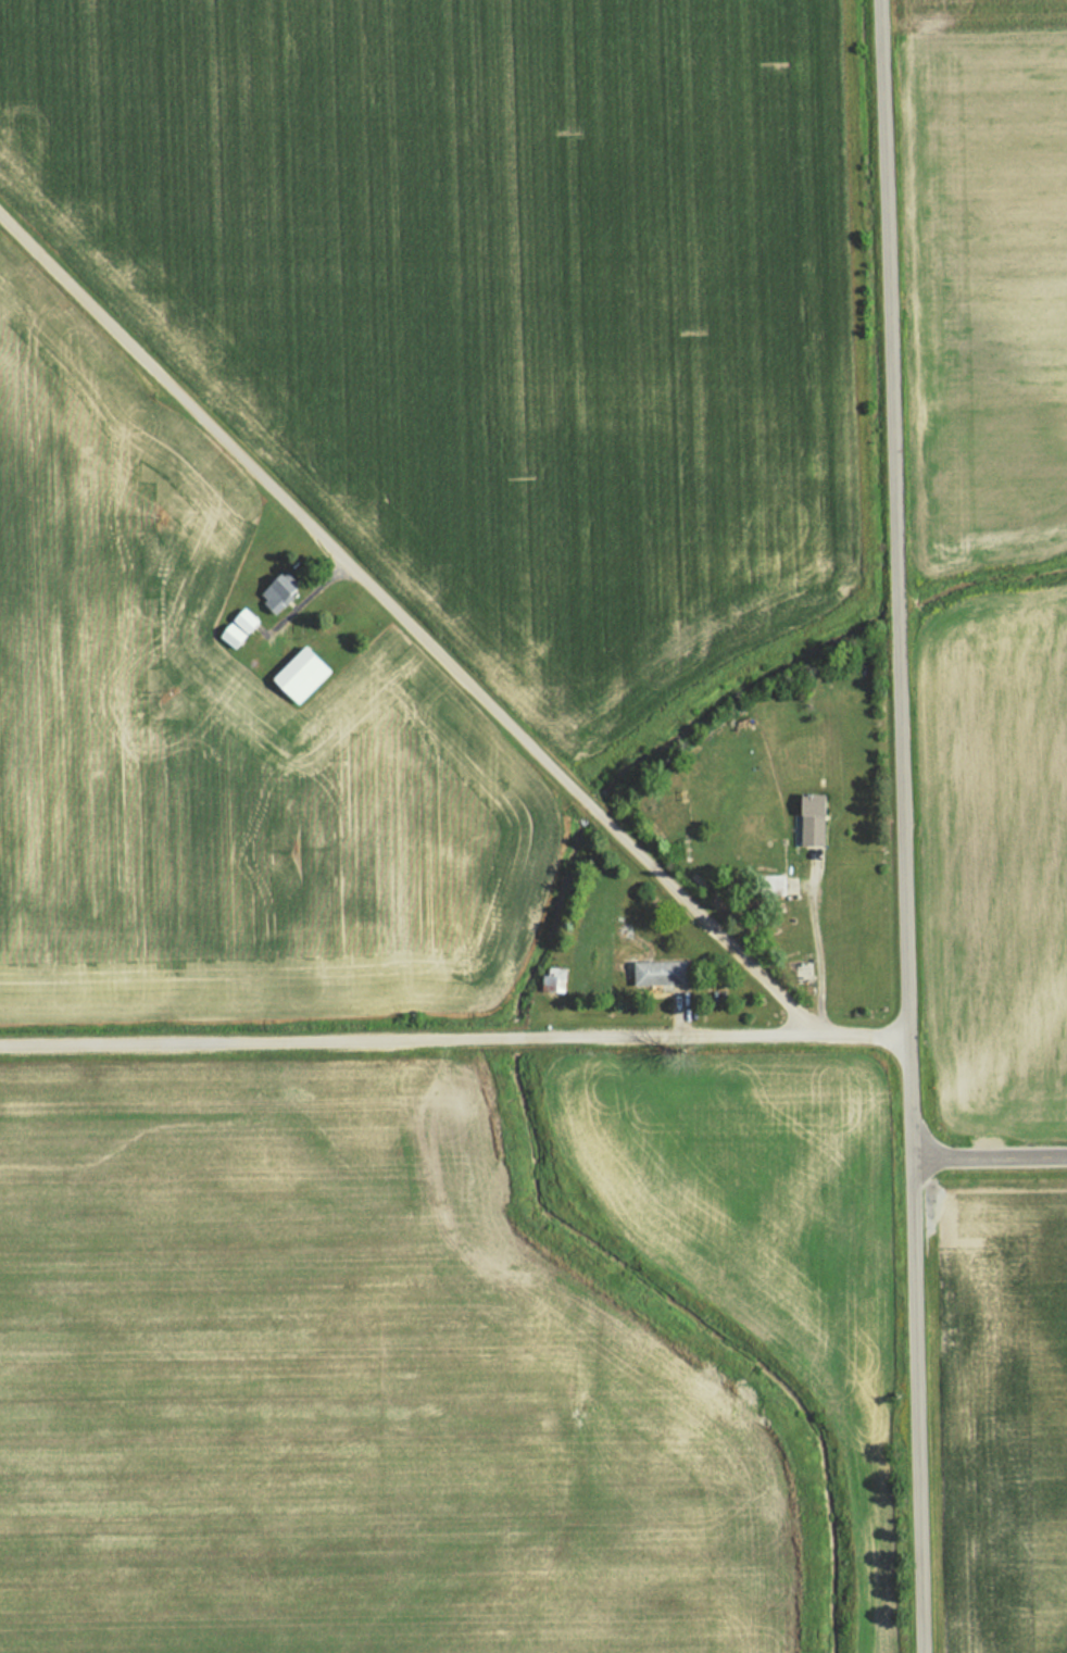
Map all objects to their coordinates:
crop: (1001, 197)
road: (409, 618)
building: (300, 675)
road: (909, 826)
crop: (1008, 856)
building: (774, 885)
building: (658, 974)
road: (456, 1036)
road: (992, 1150)
crop: (1010, 1414)

